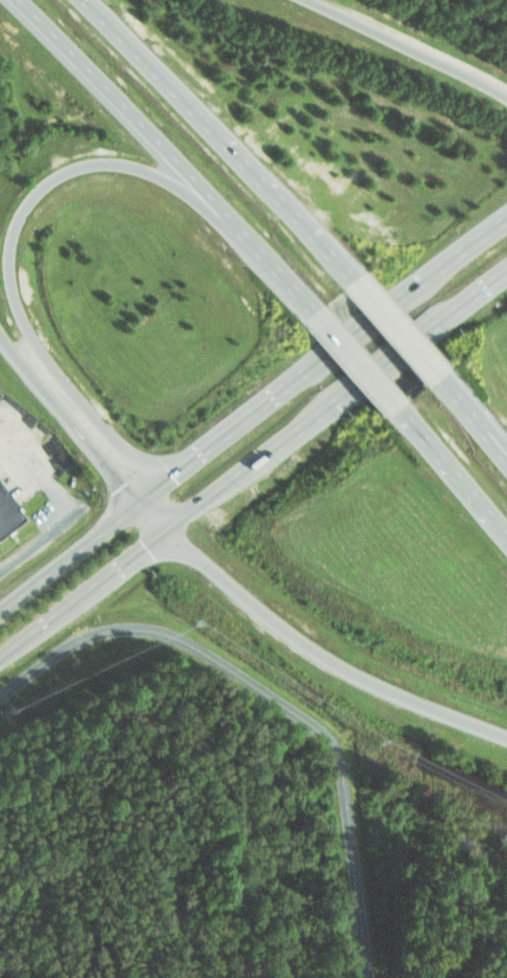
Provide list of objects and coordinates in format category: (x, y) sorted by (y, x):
road: (410, 46)
road: (219, 136)
road: (150, 138)
road: (18, 214)
road: (301, 297)
road: (393, 330)
road: (333, 351)
road: (358, 365)
road: (472, 417)
road: (472, 423)
road: (253, 463)
road: (41, 474)
road: (454, 477)
traffic signals: (159, 487)
traffic signals: (134, 505)
building: (9, 511)
road: (60, 517)
traffic signals: (166, 530)
road: (41, 539)
road: (79, 549)
road: (223, 580)
road: (272, 700)

